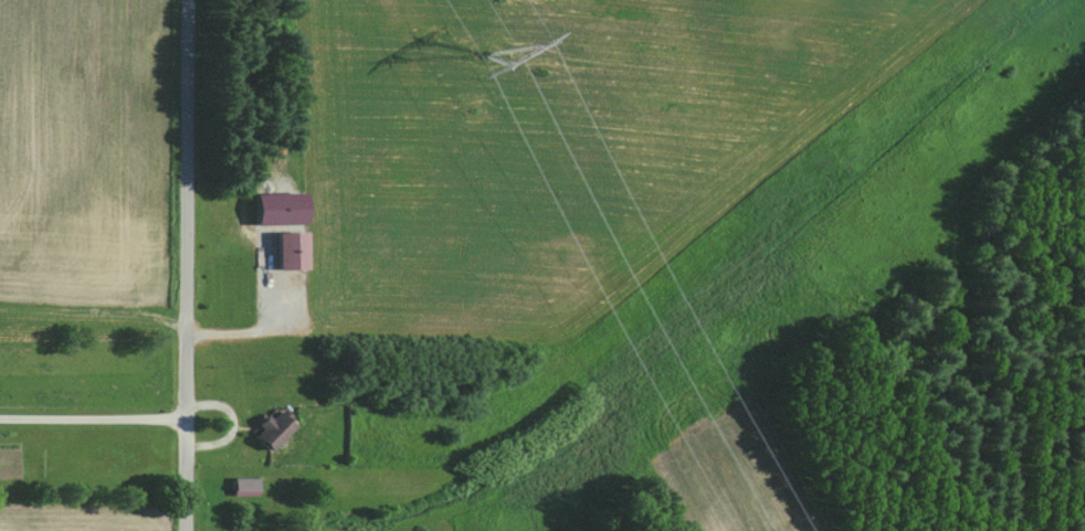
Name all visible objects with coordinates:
power tower: (489, 57)
building: (297, 251)
road: (187, 265)
road: (93, 422)
building: (281, 429)

